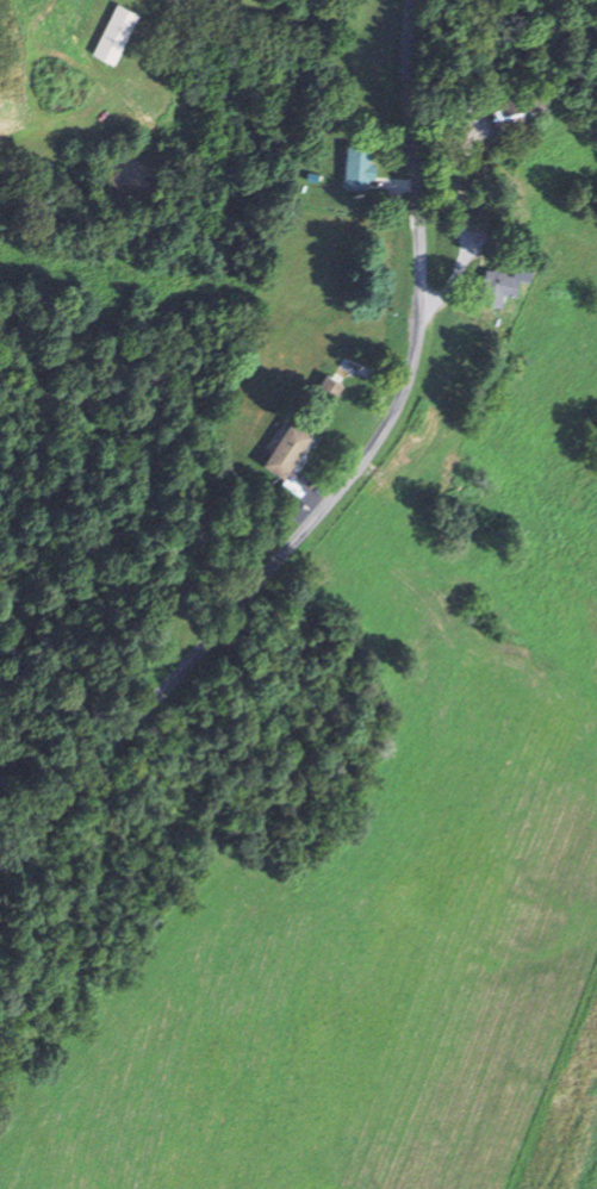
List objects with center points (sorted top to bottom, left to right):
road: (343, 485)

